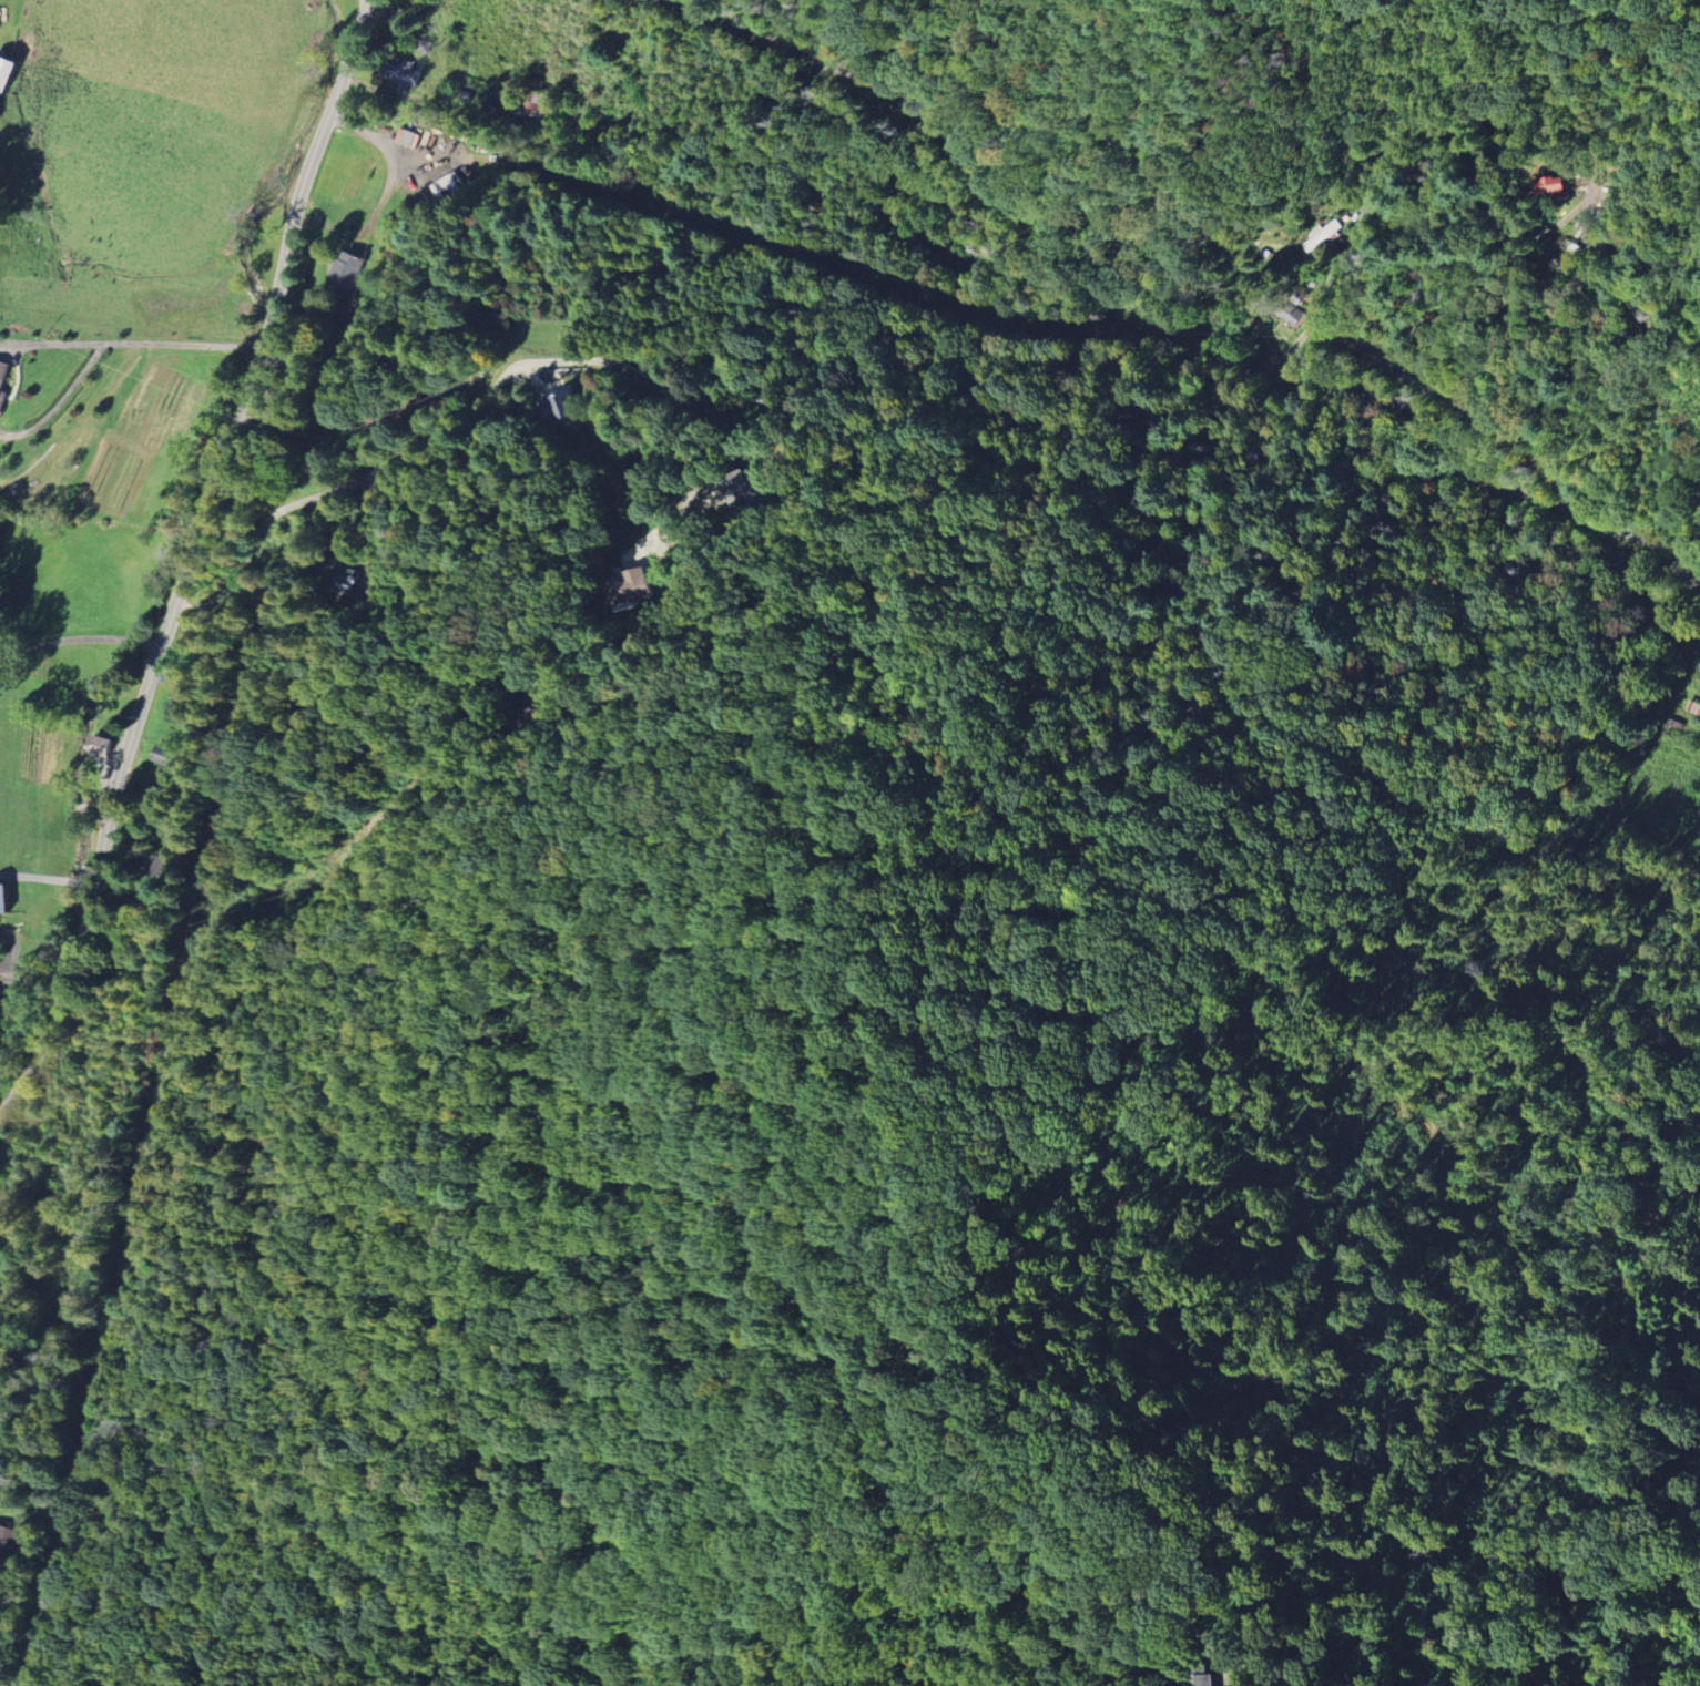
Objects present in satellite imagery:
building: (10, 73)
building: (399, 75)
building: (531, 104)
building: (464, 175)
building: (447, 186)
building: (1554, 187)
building: (1324, 236)
building: (345, 273)
road: (1473, 293)
road: (1319, 302)
road: (1168, 327)
road: (51, 343)
road: (183, 344)
road: (517, 364)
building: (4, 386)
road: (59, 399)
building: (556, 408)
building: (741, 489)
road: (206, 520)
building: (104, 752)
building: (7, 900)
road: (26, 1079)
building: (7, 1540)

